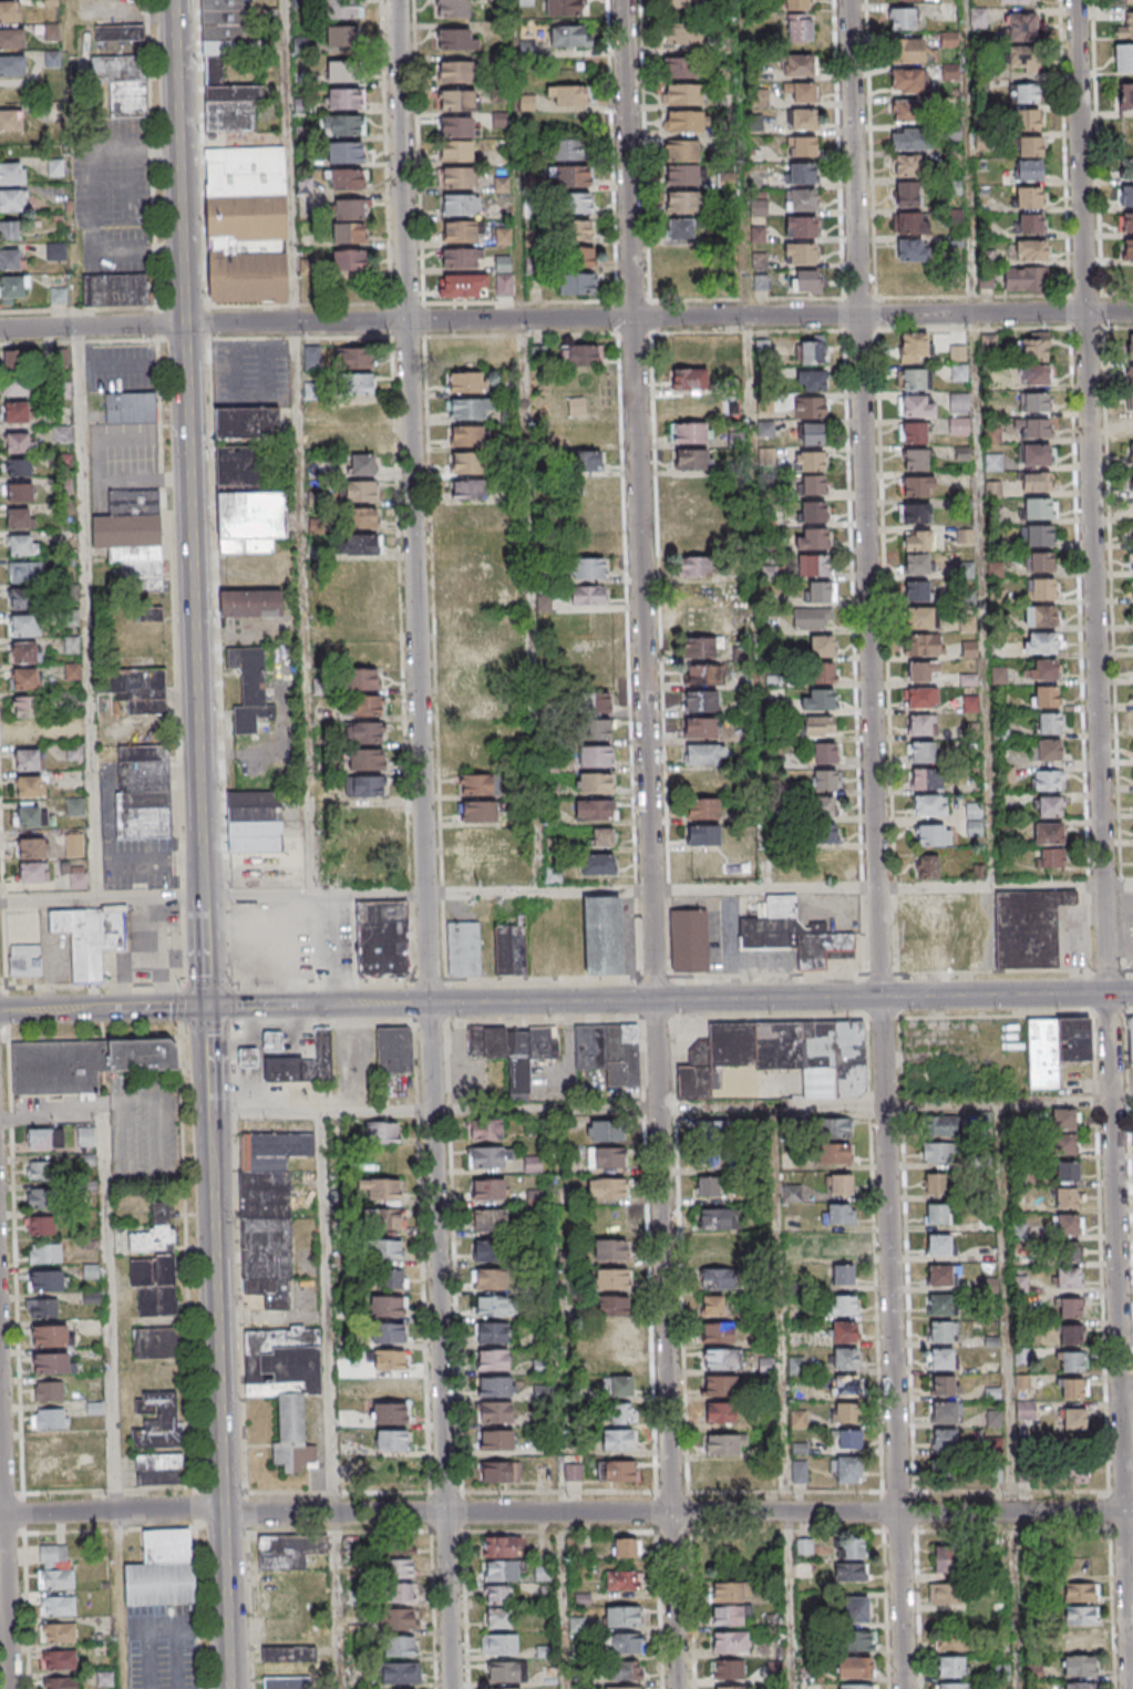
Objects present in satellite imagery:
building: (1017, 1)
building: (681, 3)
building: (796, 4)
building: (566, 7)
building: (452, 8)
building: (342, 9)
building: (8, 10)
building: (946, 12)
building: (904, 19)
building: (975, 19)
building: (1020, 27)
building: (1125, 27)
building: (799, 28)
building: (51, 31)
building: (119, 32)
building: (682, 34)
building: (341, 35)
building: (570, 35)
building: (11, 39)
building: (455, 39)
building: (948, 40)
building: (908, 50)
building: (51, 58)
building: (1022, 59)
building: (1123, 59)
building: (799, 64)
building: (12, 65)
building: (680, 68)
building: (213, 70)
building: (342, 71)
building: (455, 71)
building: (949, 73)
building: (908, 81)
building: (123, 83)
building: (802, 91)
building: (567, 94)
building: (1026, 94)
building: (681, 95)
building: (344, 99)
building: (1126, 99)
building: (456, 100)
building: (905, 110)
building: (803, 119)
building: (1027, 121)
building: (686, 122)
building: (342, 124)
building: (12, 126)
building: (455, 126)
building: (909, 138)
building: (1127, 138)
building: (801, 147)
building: (1029, 147)
building: (567, 148)
building: (455, 151)
building: (344, 153)
road: (295, 161)
road: (96, 163)
building: (682, 163)
building: (907, 164)
building: (55, 167)
building: (1125, 169)
building: (1028, 172)
building: (11, 174)
building: (802, 174)
building: (569, 176)
building: (347, 178)
building: (456, 178)
building: (907, 193)
building: (1125, 196)
building: (1029, 198)
building: (800, 199)
building: (12, 202)
building: (682, 202)
building: (577, 203)
building: (459, 206)
building: (350, 207)
building: (910, 223)
building: (1124, 223)
building: (246, 224)
building: (1029, 224)
building: (801, 226)
building: (682, 228)
building: (579, 229)
building: (9, 230)
building: (349, 231)
building: (460, 233)
building: (913, 249)
building: (55, 250)
road: (147, 250)
building: (1026, 251)
building: (800, 253)
building: (580, 255)
building: (682, 255)
building: (9, 258)
building: (462, 258)
building: (348, 259)
building: (1127, 259)
building: (504, 276)
building: (1026, 278)
building: (805, 280)
building: (683, 281)
building: (577, 284)
building: (462, 285)
building: (12, 288)
building: (114, 289)
building: (58, 295)
road: (750, 313)
road: (566, 319)
building: (1036, 344)
building: (1131, 346)
building: (911, 348)
building: (812, 350)
building: (688, 351)
building: (579, 354)
building: (312, 357)
building: (465, 357)
building: (354, 358)
building: (16, 360)
building: (958, 373)
building: (1037, 374)
building: (1130, 375)
building: (915, 378)
building: (689, 379)
building: (811, 379)
building: (465, 382)
building: (357, 384)
building: (16, 385)
building: (1131, 400)
building: (1032, 402)
building: (958, 403)
building: (689, 405)
building: (917, 405)
building: (583, 406)
building: (810, 406)
building: (131, 408)
building: (470, 409)
building: (16, 411)
building: (356, 412)
building: (247, 422)
building: (958, 426)
building: (1031, 428)
building: (691, 432)
building: (913, 432)
building: (584, 433)
building: (811, 433)
building: (992, 434)
building: (468, 436)
building: (354, 439)
building: (20, 442)
road: (982, 443)
road: (192, 446)
building: (1036, 454)
building: (1131, 454)
building: (915, 459)
building: (692, 460)
building: (589, 461)
building: (811, 461)
building: (993, 462)
building: (240, 464)
building: (467, 464)
building: (19, 466)
building: (362, 466)
building: (1132, 481)
building: (1037, 482)
building: (813, 484)
building: (918, 486)
building: (587, 487)
building: (19, 491)
building: (468, 491)
building: (360, 492)
building: (1132, 507)
building: (1039, 509)
road: (531, 511)
building: (813, 512)
building: (691, 513)
building: (915, 513)
building: (19, 517)
building: (360, 517)
building: (470, 517)
building: (250, 521)
building: (1132, 534)
building: (964, 536)
building: (1038, 536)
building: (132, 537)
building: (693, 539)
building: (812, 539)
building: (918, 540)
building: (473, 543)
building: (588, 543)
building: (361, 544)
building: (22, 545)
building: (1132, 560)
building: (1039, 563)
building: (916, 564)
building: (694, 566)
building: (812, 566)
building: (588, 569)
building: (25, 571)
building: (357, 571)
building: (1039, 589)
building: (916, 590)
building: (820, 591)
building: (699, 594)
building: (475, 596)
building: (588, 596)
building: (21, 598)
building: (363, 598)
building: (250, 603)
road: (85, 612)
building: (151, 614)
building: (1040, 616)
building: (921, 617)
building: (812, 618)
building: (590, 622)
building: (473, 624)
building: (22, 626)
building: (1039, 642)
building: (71, 643)
building: (921, 643)
building: (821, 645)
building: (701, 647)
building: (590, 648)
building: (22, 651)
building: (477, 651)
building: (364, 652)
building: (1042, 669)
building: (923, 670)
building: (823, 671)
building: (701, 673)
building: (23, 679)
building: (364, 679)
building: (473, 679)
building: (249, 683)
building: (137, 689)
building: (1044, 696)
building: (920, 697)
building: (817, 699)
building: (701, 701)
building: (599, 703)
building: (367, 704)
building: (27, 706)
building: (475, 706)
building: (1049, 723)
building: (921, 724)
building: (820, 725)
building: (700, 728)
building: (597, 729)
building: (28, 732)
building: (364, 732)
building: (476, 732)
building: (1047, 751)
building: (825, 752)
building: (924, 752)
building: (704, 755)
building: (595, 756)
road: (653, 756)
building: (474, 758)
building: (28, 759)
building: (365, 759)
building: (825, 780)
building: (926, 780)
building: (1047, 780)
building: (595, 783)
building: (475, 784)
building: (29, 785)
building: (365, 785)
building: (143, 791)
road: (770, 805)
building: (1049, 805)
building: (75, 806)
building: (823, 806)
building: (929, 806)
building: (594, 809)
building: (702, 809)
building: (478, 811)
building: (30, 815)
building: (365, 815)
building: (974, 820)
building: (255, 821)
building: (823, 833)
building: (1048, 833)
building: (931, 835)
building: (602, 836)
building: (703, 836)
building: (476, 837)
road: (422, 844)
road: (879, 844)
road: (1105, 844)
building: (33, 847)
building: (1049, 858)
road: (116, 859)
building: (597, 864)
building: (704, 864)
building: (927, 866)
building: (472, 867)
building: (364, 869)
building: (32, 872)
building: (78, 879)
road: (566, 892)
building: (930, 918)
building: (1028, 927)
building: (793, 934)
building: (602, 935)
building: (89, 937)
building: (382, 939)
building: (689, 940)
building: (463, 948)
building: (512, 948)
road: (331, 949)
road: (204, 950)
building: (24, 960)
road: (681, 981)
road: (780, 998)
road: (316, 1006)
traffic signals: (206, 1007)
road: (103, 1009)
building: (1131, 1040)
building: (277, 1044)
building: (1055, 1048)
building: (514, 1049)
building: (394, 1050)
building: (610, 1051)
building: (781, 1055)
building: (327, 1057)
road: (208, 1059)
building: (251, 1060)
building: (84, 1062)
building: (293, 1072)
road: (1011, 1103)
road: (549, 1108)
building: (1064, 1119)
building: (833, 1126)
building: (941, 1126)
building: (605, 1130)
building: (485, 1131)
building: (710, 1131)
building: (381, 1133)
building: (84, 1136)
building: (45, 1137)
building: (1065, 1143)
building: (835, 1152)
building: (938, 1153)
building: (485, 1157)
building: (606, 1157)
building: (711, 1160)
building: (87, 1162)
building: (533, 1163)
building: (38, 1170)
building: (1067, 1170)
building: (838, 1183)
building: (935, 1185)
building: (708, 1187)
building: (380, 1188)
building: (607, 1188)
building: (487, 1189)
building: (790, 1193)
building: (1065, 1196)
building: (39, 1197)
building: (268, 1213)
building: (841, 1213)
building: (937, 1215)
building: (382, 1218)
building: (609, 1218)
building: (718, 1219)
building: (488, 1221)
building: (1067, 1224)
building: (41, 1225)
building: (838, 1245)
building: (940, 1245)
building: (388, 1249)
building: (610, 1249)
building: (1069, 1250)
building: (486, 1252)
building: (44, 1253)
road: (112, 1263)
building: (155, 1264)
building: (90, 1271)
building: (843, 1275)
building: (944, 1275)
building: (717, 1278)
building: (44, 1279)
building: (391, 1279)
building: (490, 1279)
building: (611, 1279)
building: (1068, 1279)
building: (91, 1298)
building: (941, 1305)
building: (492, 1306)
building: (612, 1306)
building: (714, 1306)
building: (841, 1306)
building: (41, 1307)
building: (390, 1307)
building: (1069, 1309)
building: (941, 1331)
building: (491, 1332)
building: (718, 1332)
building: (844, 1332)
building: (612, 1333)
building: (52, 1335)
building: (390, 1335)
building: (1070, 1336)
building: (155, 1342)
building: (940, 1358)
building: (492, 1359)
building: (721, 1359)
building: (845, 1359)
building: (390, 1360)
building: (1070, 1361)
building: (53, 1363)
building: (945, 1384)
building: (718, 1386)
building: (286, 1387)
building: (389, 1387)
building: (496, 1387)
building: (621, 1387)
building: (845, 1387)
building: (1071, 1389)
building: (48, 1391)
road: (1012, 1396)
road: (785, 1397)
road: (218, 1400)
road: (332, 1401)
building: (495, 1412)
building: (946, 1412)
building: (389, 1413)
building: (621, 1413)
building: (720, 1413)
building: (844, 1414)
building: (49, 1419)
building: (1073, 1420)
building: (156, 1421)
building: (618, 1439)
building: (391, 1440)
building: (495, 1440)
building: (944, 1440)
building: (845, 1441)
building: (52, 1445)
building: (722, 1445)
building: (158, 1469)
building: (617, 1470)
building: (846, 1470)
building: (1074, 1471)
building: (499, 1472)
building: (574, 1472)
building: (943, 1473)
building: (52, 1477)
building: (97, 1477)
road: (566, 1513)
road: (4, 1536)
building: (350, 1544)
building: (399, 1546)
building: (501, 1546)
building: (626, 1546)
building: (1075, 1546)
building: (722, 1547)
building: (851, 1548)
building: (772, 1549)
building: (289, 1551)
building: (943, 1559)
building: (54, 1567)
building: (399, 1568)
building: (501, 1570)
building: (163, 1572)
building: (849, 1572)
building: (622, 1580)
building: (727, 1592)
building: (400, 1593)
building: (1080, 1593)
building: (947, 1594)
building: (496, 1595)
road: (567, 1600)
road: (680, 1600)
building: (56, 1606)
building: (857, 1609)
building: (728, 1615)
building: (1081, 1615)
building: (498, 1618)
building: (621, 1618)
building: (396, 1619)
building: (58, 1633)
building: (1079, 1638)
building: (730, 1641)
building: (859, 1641)
building: (954, 1641)
building: (499, 1644)
building: (625, 1645)
building: (399, 1647)
building: (288, 1654)
building: (58, 1659)
building: (1078, 1666)
building: (854, 1667)
building: (951, 1667)
building: (728, 1669)
building: (506, 1671)
building: (625, 1671)
building: (400, 1672)
building: (104, 1679)
building: (60, 1682)
building: (282, 1682)
building: (1078, 1686)
building: (729, 1687)
building: (857, 1687)
building: (952, 1687)
building: (504, 1688)
building: (625, 1688)

